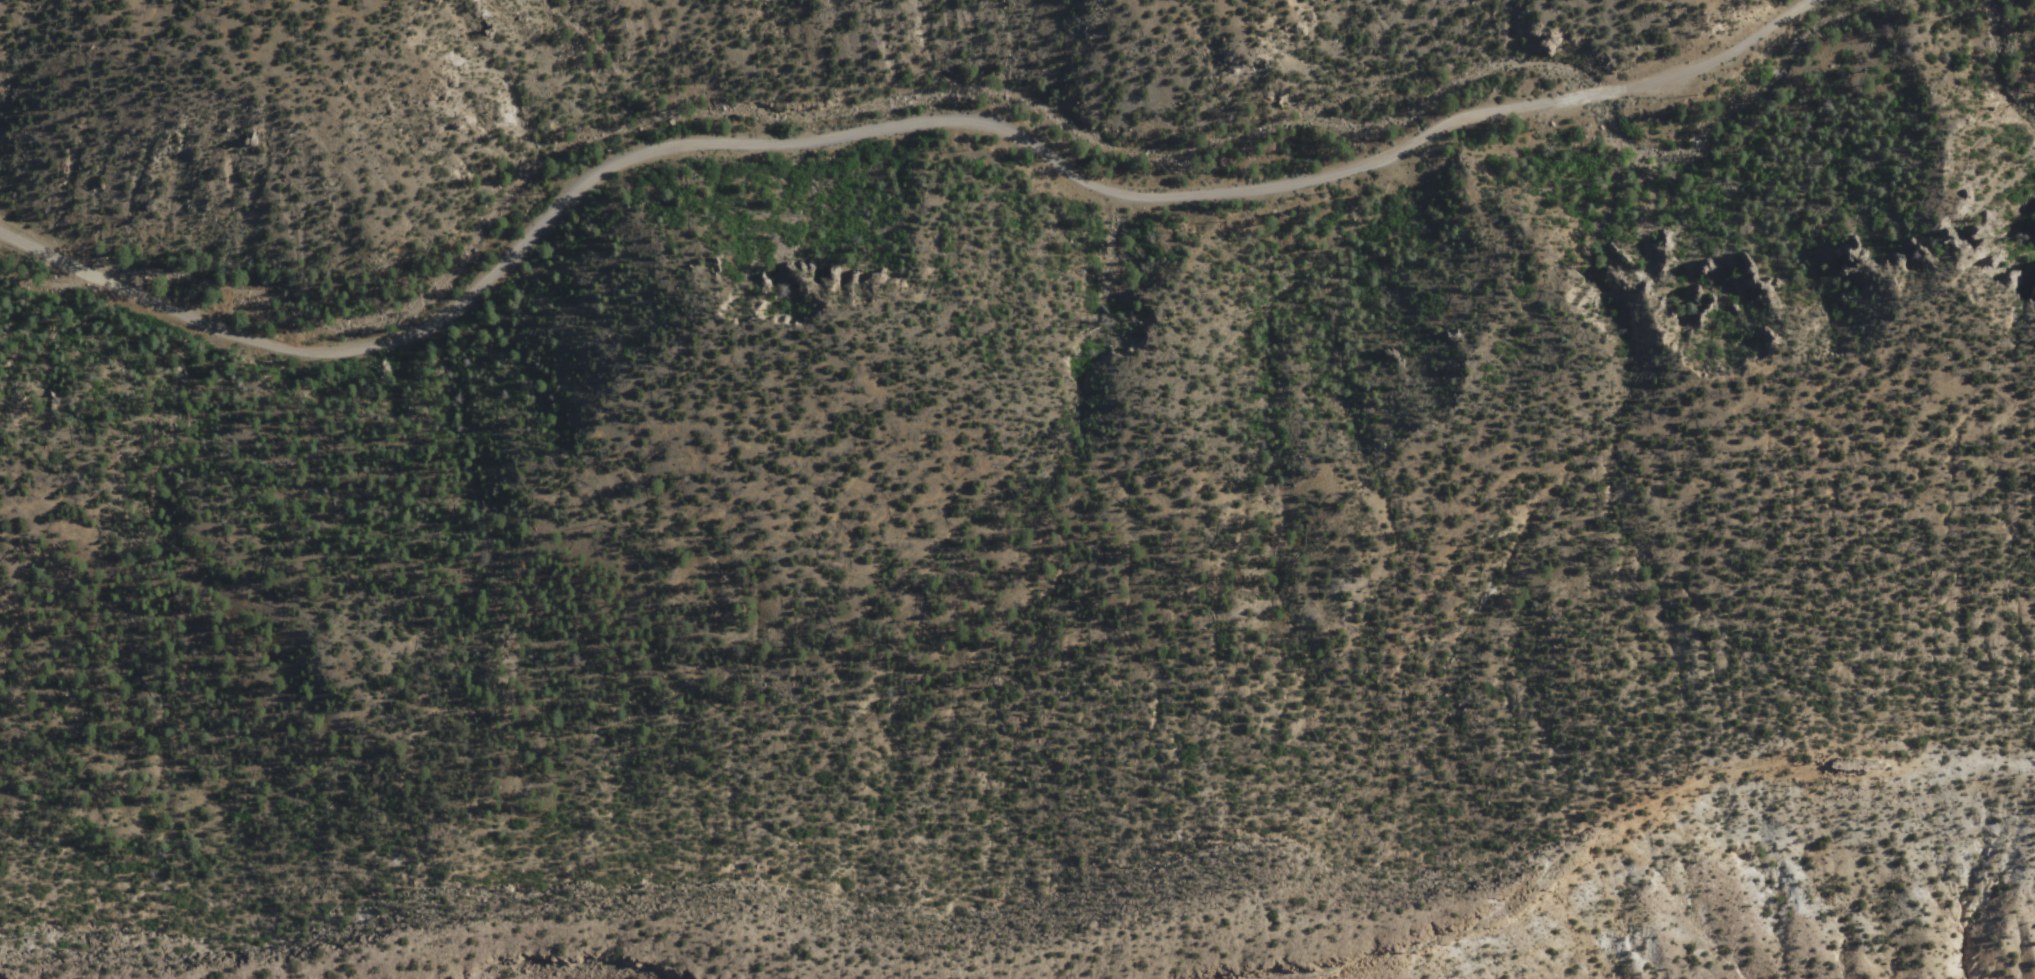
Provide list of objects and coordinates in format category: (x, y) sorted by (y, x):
road: (1473, 116)
road: (552, 215)

